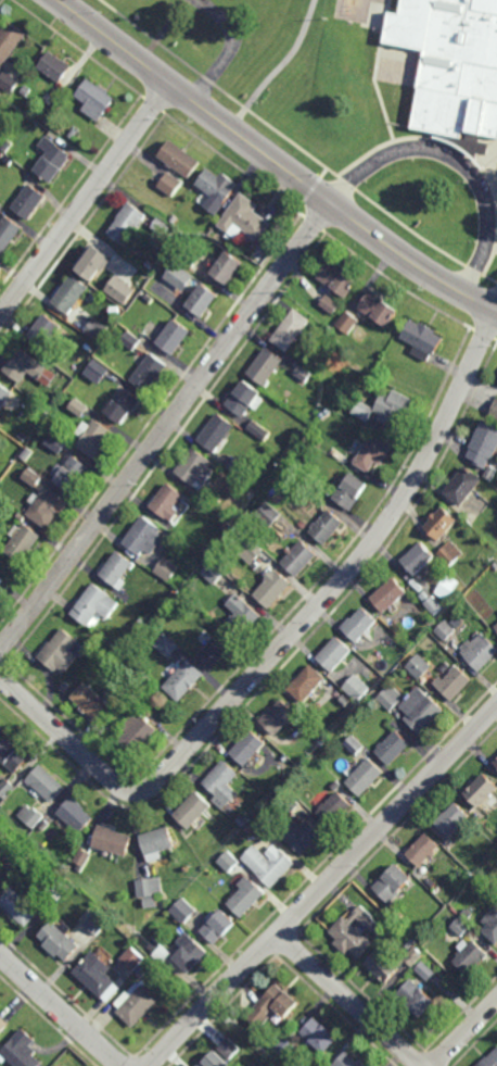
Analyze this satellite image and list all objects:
building: (10, 40)
road: (230, 48)
building: (463, 58)
building: (58, 65)
road: (280, 68)
park: (294, 72)
building: (10, 80)
building: (27, 89)
building: (97, 98)
building: (74, 133)
building: (8, 143)
building: (182, 156)
building: (54, 158)
road: (272, 160)
road: (458, 160)
building: (27, 175)
building: (173, 183)
building: (217, 188)
road: (85, 199)
building: (31, 200)
building: (250, 216)
building: (176, 217)
building: (128, 223)
building: (163, 225)
building: (10, 233)
building: (191, 258)
building: (95, 261)
building: (151, 265)
building: (231, 266)
building: (179, 277)
building: (339, 277)
building: (122, 289)
building: (73, 293)
building: (151, 298)
building: (206, 299)
building: (331, 303)
building: (379, 308)
building: (348, 323)
building: (99, 329)
building: (295, 329)
building: (48, 330)
building: (178, 336)
building: (423, 338)
building: (133, 340)
building: (269, 366)
building: (31, 367)
building: (100, 371)
building: (152, 372)
building: (305, 376)
building: (339, 391)
building: (5, 396)
building: (247, 399)
building: (125, 404)
building: (82, 407)
building: (386, 407)
building: (495, 412)
building: (324, 414)
road: (166, 427)
building: (259, 430)
building: (219, 432)
building: (309, 436)
building: (25, 437)
building: (95, 439)
building: (62, 441)
building: (485, 444)
building: (309, 446)
building: (373, 453)
building: (290, 463)
building: (243, 468)
building: (199, 469)
building: (492, 473)
building: (76, 475)
building: (35, 477)
building: (464, 486)
building: (351, 491)
building: (253, 493)
building: (171, 503)
building: (47, 507)
building: (270, 514)
building: (23, 517)
building: (442, 523)
building: (328, 526)
building: (231, 528)
building: (146, 538)
building: (24, 542)
building: (255, 550)
building: (211, 553)
building: (451, 553)
building: (1, 554)
building: (301, 559)
building: (419, 559)
building: (496, 565)
building: (170, 569)
building: (119, 570)
building: (216, 574)
building: (1, 589)
building: (275, 589)
building: (390, 595)
building: (434, 604)
building: (97, 606)
building: (243, 616)
building: (428, 618)
building: (496, 624)
building: (359, 625)
building: (146, 626)
building: (496, 627)
building: (446, 630)
road: (284, 643)
building: (169, 647)
building: (480, 651)
building: (64, 652)
building: (216, 653)
building: (335, 654)
building: (390, 656)
building: (419, 666)
building: (150, 682)
building: (187, 682)
building: (453, 684)
building: (309, 685)
building: (356, 688)
building: (345, 701)
building: (92, 703)
building: (412, 706)
building: (280, 718)
building: (140, 731)
building: (2, 732)
building: (354, 745)
building: (392, 748)
building: (251, 750)
building: (14, 756)
building: (290, 762)
building: (496, 763)
building: (365, 777)
building: (48, 783)
building: (224, 783)
building: (7, 785)
building: (336, 786)
building: (481, 791)
building: (292, 802)
building: (194, 807)
building: (334, 807)
building: (77, 813)
building: (33, 814)
building: (451, 818)
building: (243, 819)
building: (250, 827)
building: (303, 835)
building: (113, 838)
building: (160, 841)
building: (423, 849)
building: (82, 857)
building: (229, 861)
building: (270, 863)
building: (0, 875)
building: (0, 877)
building: (393, 881)
building: (430, 882)
building: (59, 885)
road: (323, 887)
building: (151, 889)
building: (247, 894)
building: (21, 904)
building: (186, 908)
building: (467, 913)
building: (450, 915)
building: (399, 916)
building: (97, 919)
building: (220, 924)
building: (490, 924)
building: (461, 926)
building: (355, 931)
building: (61, 938)
building: (162, 950)
building: (191, 951)
building: (469, 954)
building: (135, 956)
building: (394, 958)
building: (425, 970)
building: (143, 971)
building: (99, 974)
building: (416, 996)
building: (138, 1002)
road: (349, 1002)
building: (275, 1004)
building: (0, 1005)
building: (0, 1006)
road: (60, 1009)
building: (2, 1023)
building: (319, 1034)
road: (467, 1034)
building: (285, 1046)
building: (231, 1048)
building: (21, 1050)
building: (215, 1059)
building: (489, 1059)
building: (348, 1061)
building: (62, 1064)

